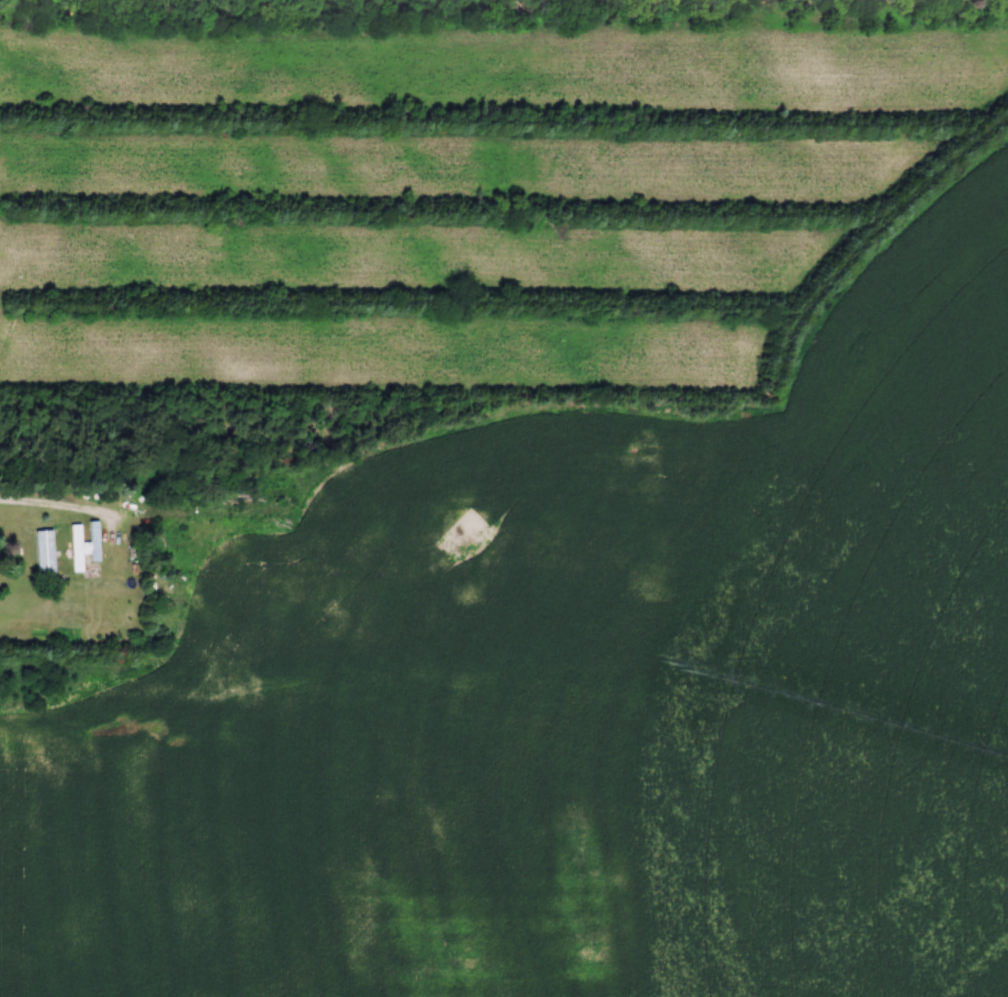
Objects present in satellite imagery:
road: (60, 509)
building: (95, 542)
building: (78, 549)
building: (47, 552)

